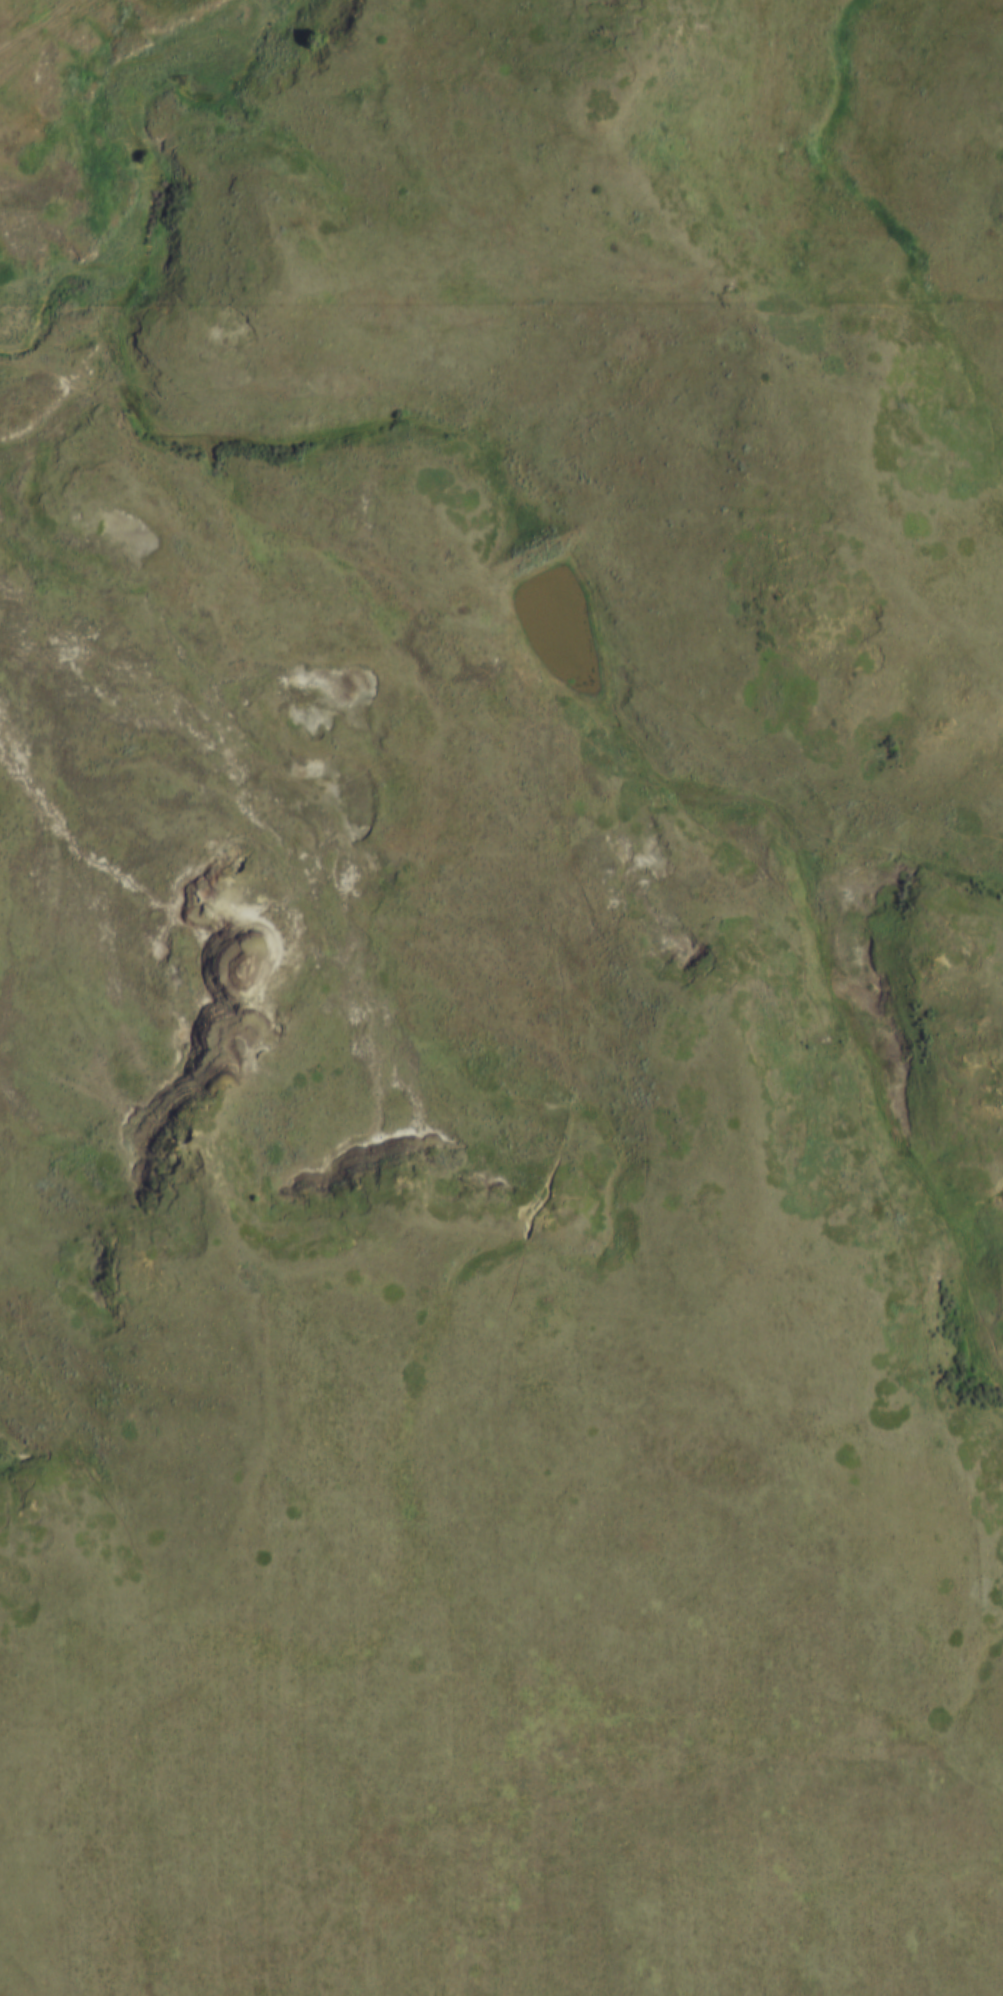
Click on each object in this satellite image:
road: (34, 29)

